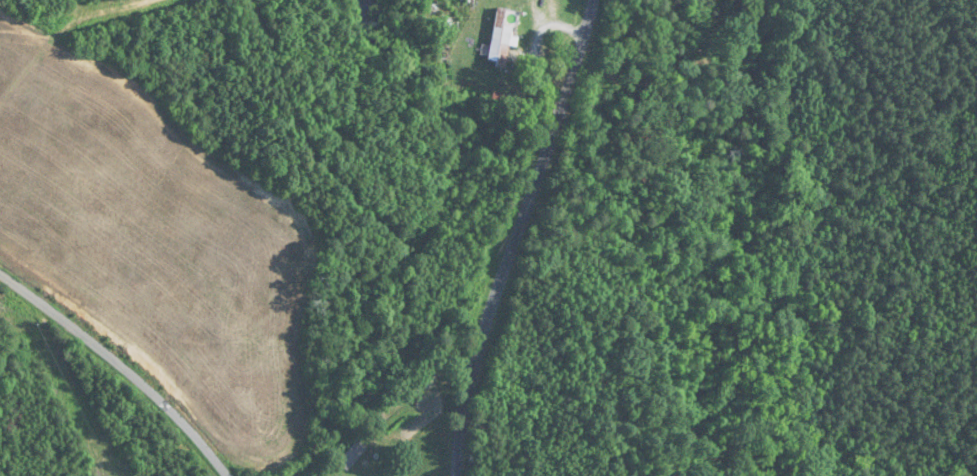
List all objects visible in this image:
building: (507, 54)
road: (523, 237)
road: (123, 361)

